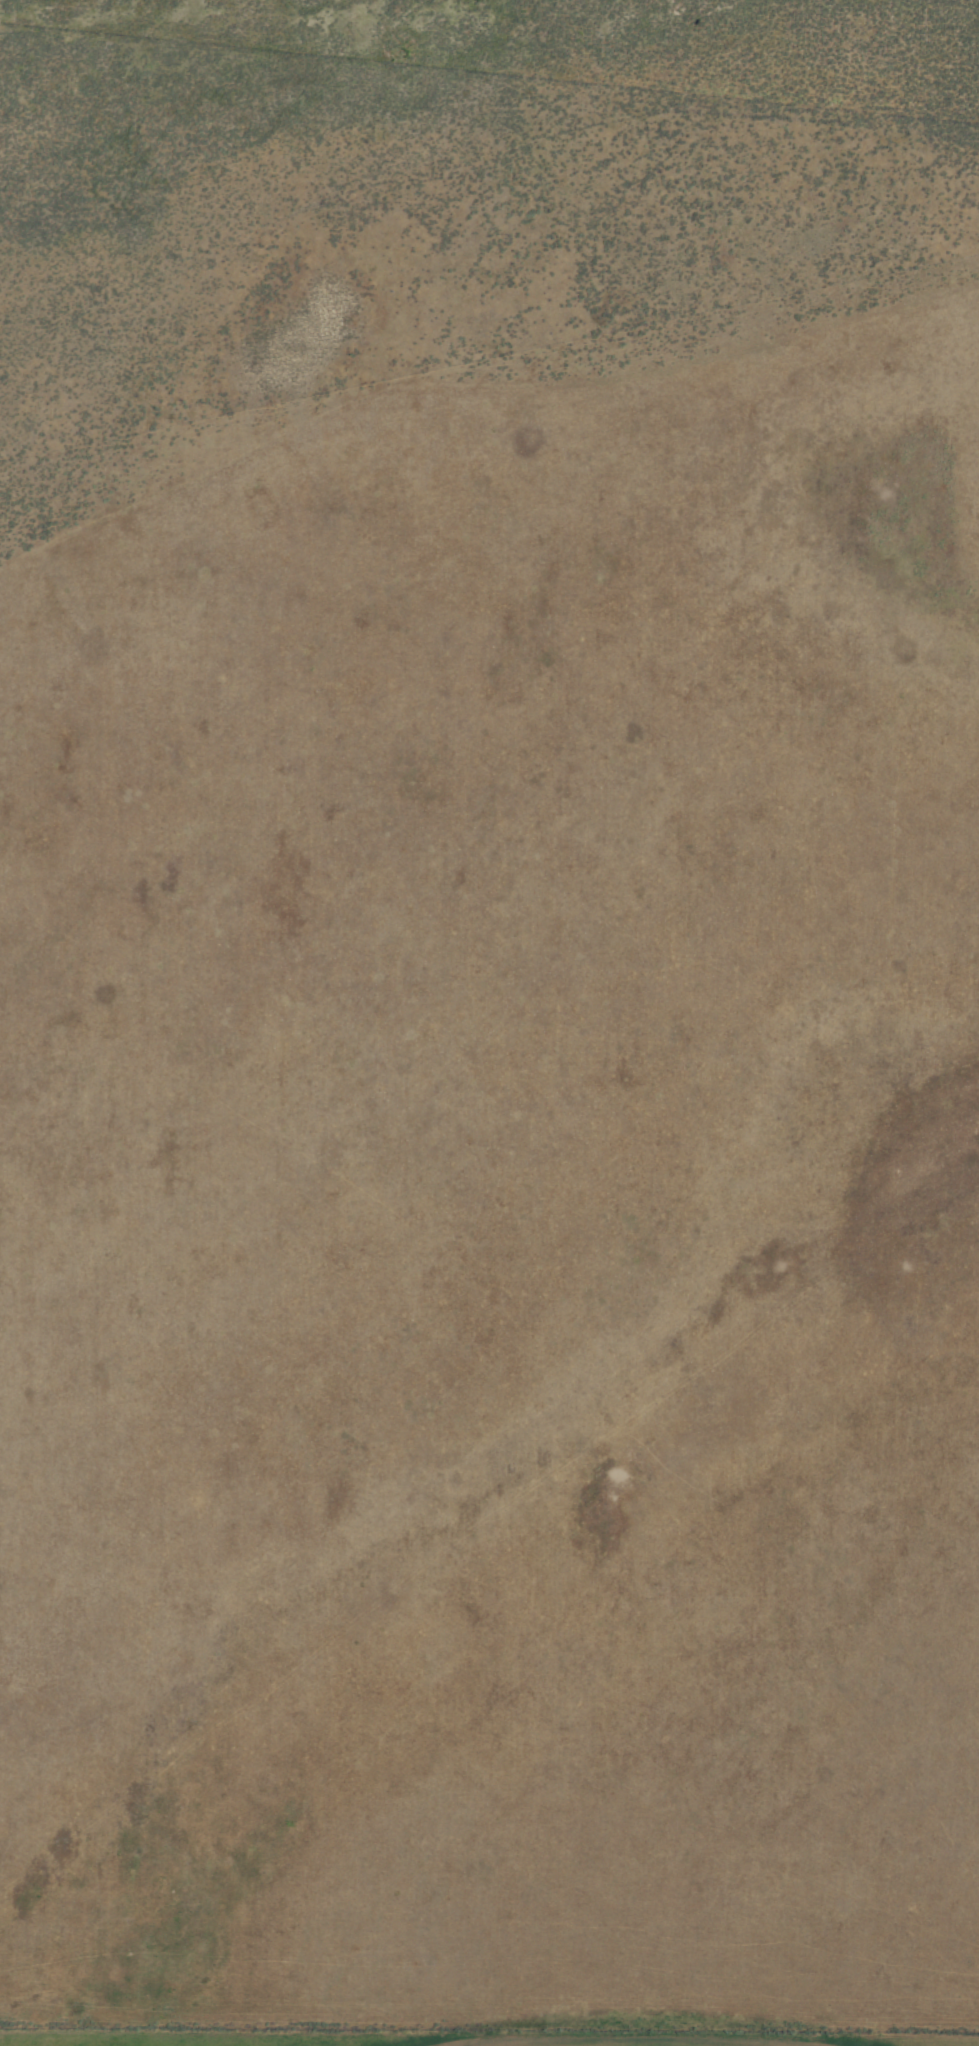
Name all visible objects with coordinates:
crop: (489, 1022)
road: (489, 2034)

